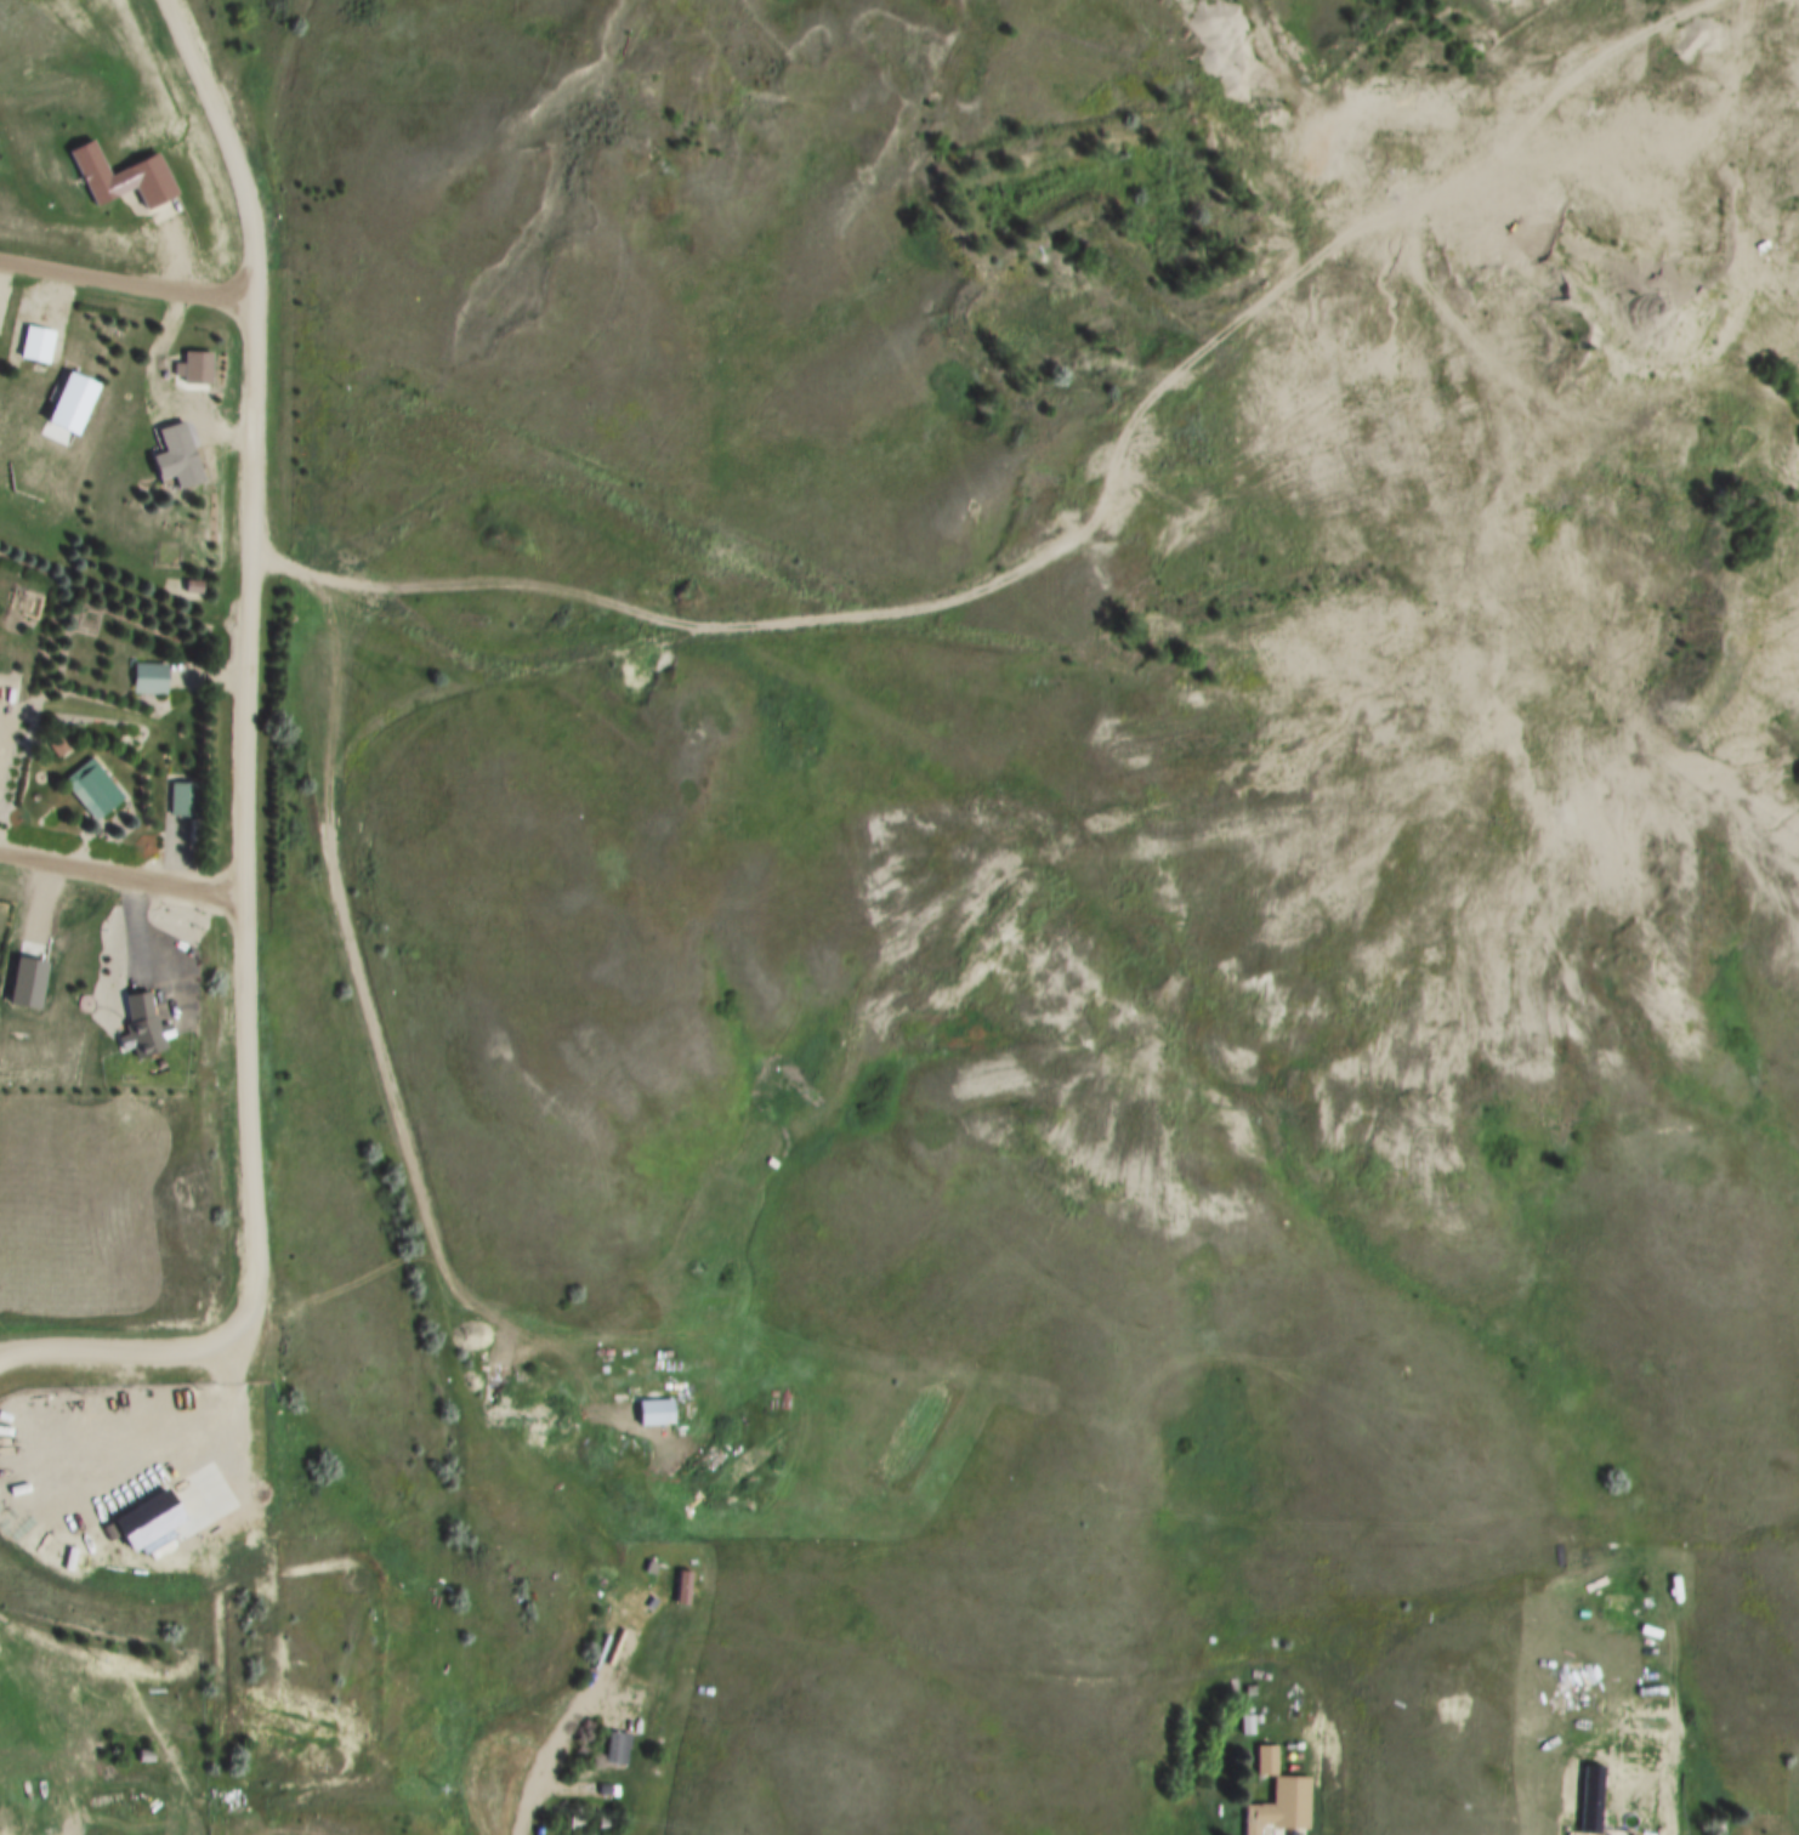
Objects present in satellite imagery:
building: (123, 177)
road: (127, 289)
building: (36, 345)
building: (194, 368)
building: (74, 403)
building: (178, 459)
road: (597, 493)
building: (192, 586)
road: (849, 617)
quarry: (1397, 658)
building: (151, 680)
building: (59, 746)
road: (243, 789)
building: (95, 790)
building: (188, 801)
road: (121, 877)
building: (149, 1028)
road: (412, 1153)
building: (656, 1413)
building: (158, 1523)
building: (1247, 1723)
building: (617, 1748)
road: (552, 1760)
building: (1267, 1761)
building: (1594, 1800)
building: (1282, 1808)

